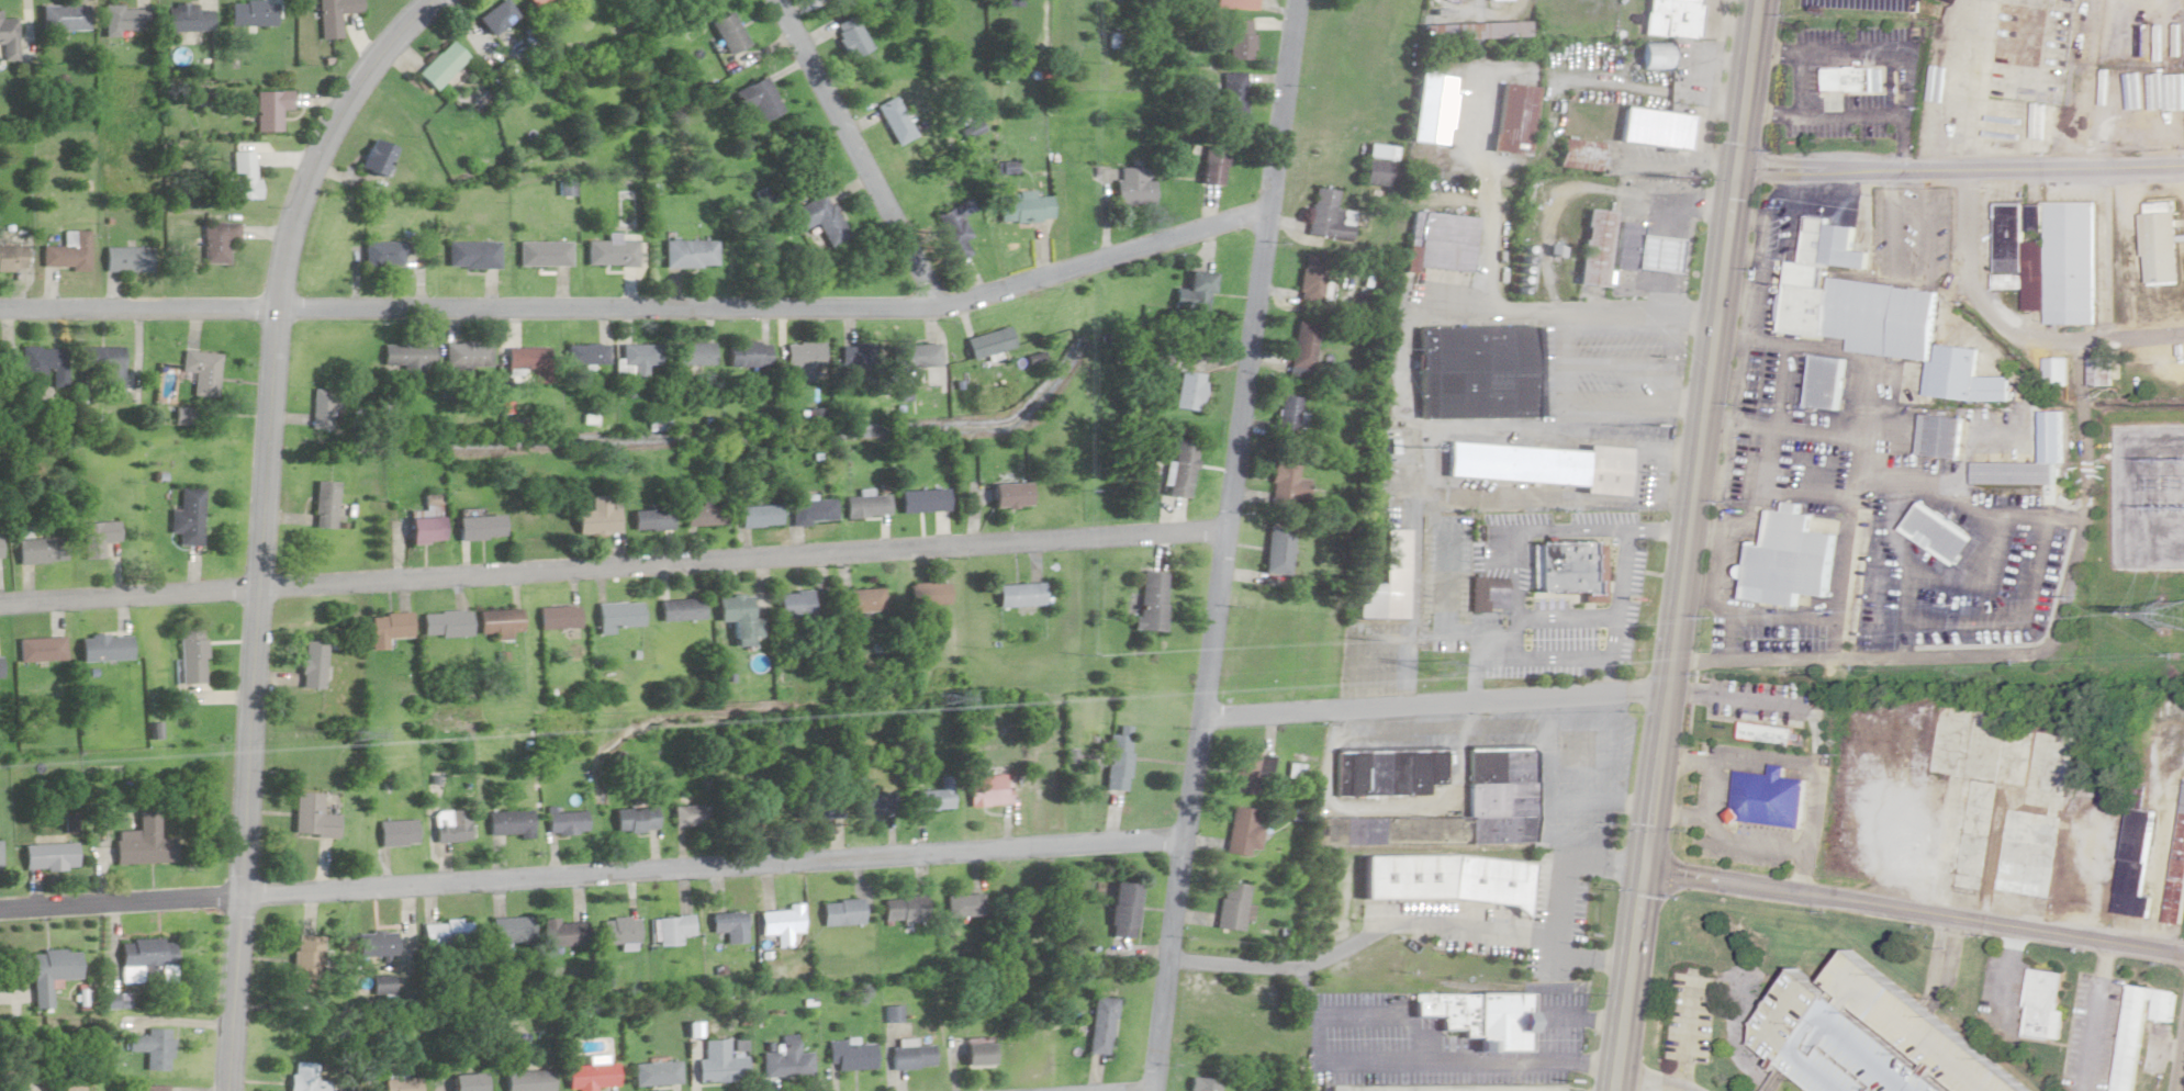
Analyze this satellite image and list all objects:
building: (530, 2)
building: (1234, 4)
building: (249, 13)
building: (332, 15)
building: (494, 16)
building: (61, 18)
building: (184, 18)
building: (1670, 18)
building: (124, 20)
building: (1471, 31)
building: (725, 33)
building: (848, 37)
building: (8, 40)
building: (1239, 40)
building: (1654, 55)
road: (1828, 55)
building: (2050, 56)
building: (438, 65)
building: (1856, 80)
road: (1801, 85)
building: (1232, 92)
building: (757, 98)
building: (1427, 109)
building: (269, 110)
road: (1907, 112)
road: (1824, 114)
building: (892, 120)
building: (1511, 120)
building: (1653, 128)
road: (854, 154)
building: (1579, 155)
building: (373, 158)
building: (1212, 161)
building: (1374, 166)
road: (1959, 170)
building: (240, 176)
building: (1132, 188)
building: (1022, 209)
building: (1326, 216)
building: (818, 220)
building: (950, 225)
road: (1520, 232)
road: (1678, 234)
building: (215, 241)
building: (1440, 241)
building: (2160, 245)
building: (1595, 248)
building: (1643, 251)
building: (65, 252)
building: (611, 252)
building: (542, 254)
building: (688, 254)
building: (382, 255)
building: (471, 256)
building: (11, 258)
building: (2047, 258)
building: (124, 260)
building: (1312, 278)
building: (1197, 291)
road: (639, 307)
road: (1558, 307)
building: (1877, 320)
road: (2012, 323)
building: (987, 344)
building: (1303, 346)
building: (584, 353)
building: (694, 355)
building: (747, 355)
building: (467, 356)
building: (859, 357)
building: (916, 357)
road: (1672, 358)
building: (525, 359)
building: (638, 359)
building: (802, 359)
building: (404, 362)
road: (1619, 362)
building: (102, 365)
building: (40, 367)
building: (1486, 370)
building: (2054, 372)
building: (2098, 372)
building: (200, 374)
building: (1824, 384)
building: (1186, 392)
road: (1586, 405)
building: (1288, 415)
building: (1938, 437)
building: (1538, 465)
building: (1178, 470)
building: (2012, 474)
building: (1770, 483)
building: (1283, 488)
building: (1008, 495)
power substation: (2152, 500)
building: (922, 502)
building: (324, 505)
building: (864, 507)
building: (810, 511)
building: (702, 516)
building: (757, 516)
building: (594, 517)
building: (186, 518)
building: (649, 520)
road: (261, 524)
building: (423, 528)
building: (477, 528)
road: (1658, 531)
road: (1526, 532)
building: (1937, 535)
building: (94, 539)
road: (1223, 545)
road: (1687, 545)
building: (1274, 549)
building: (38, 551)
road: (613, 565)
building: (1571, 569)
building: (1792, 572)
building: (1386, 582)
building: (1480, 592)
building: (928, 594)
building: (1018, 595)
building: (859, 599)
building: (1146, 600)
building: (791, 604)
road: (1446, 604)
building: (676, 609)
road: (1616, 612)
power tower: (2175, 614)
building: (614, 615)
building: (556, 617)
building: (736, 618)
road: (1564, 618)
building: (496, 621)
building: (445, 623)
building: (387, 628)
building: (102, 648)
building: (40, 649)
road: (1481, 653)
building: (190, 655)
road: (1549, 660)
building: (310, 664)
building: (0, 668)
power tower: (1440, 668)
power tower: (938, 697)
road: (1736, 699)
road: (1432, 706)
power tower: (348, 732)
building: (1771, 732)
building: (1116, 758)
road: (1714, 762)
building: (1503, 765)
building: (1391, 772)
road: (1811, 772)
building: (1245, 773)
building: (985, 789)
building: (931, 796)
building: (1503, 798)
building: (1774, 799)
building: (811, 800)
building: (869, 802)
road: (1599, 802)
building: (1976, 808)
building: (759, 810)
building: (687, 814)
building: (309, 816)
building: (632, 819)
building: (562, 821)
road: (1548, 821)
building: (506, 822)
building: (448, 825)
building: (1432, 828)
building: (394, 832)
building: (1243, 832)
building: (2136, 834)
building: (141, 842)
road: (1743, 843)
building: (2025, 853)
building: (46, 855)
road: (1606, 863)
building: (2176, 867)
road: (593, 875)
building: (1453, 879)
building: (2130, 904)
building: (962, 906)
building: (1232, 907)
building: (900, 909)
building: (1122, 909)
road: (1913, 910)
building: (839, 912)
building: (781, 923)
road: (1403, 924)
building: (728, 925)
building: (671, 929)
building: (508, 930)
building: (617, 930)
building: (445, 933)
building: (563, 933)
building: (372, 943)
building: (142, 959)
building: (302, 960)
building: (47, 972)
road: (2012, 972)
building: (380, 987)
building: (114, 1001)
building: (2045, 1005)
road: (2097, 1016)
road: (1582, 1017)
building: (1487, 1019)
building: (1097, 1025)
building: (2138, 1030)
road: (1321, 1032)
building: (1867, 1038)
building: (152, 1047)
building: (976, 1055)
building: (848, 1056)
building: (909, 1057)
building: (784, 1060)
building: (717, 1064)
road: (1530, 1064)
building: (652, 1073)
building: (587, 1076)
building: (309, 1077)
road: (2182, 1077)
building: (525, 1080)
building: (395, 1081)
building: (464, 1082)
building: (1199, 1083)
building: (153, 1088)

